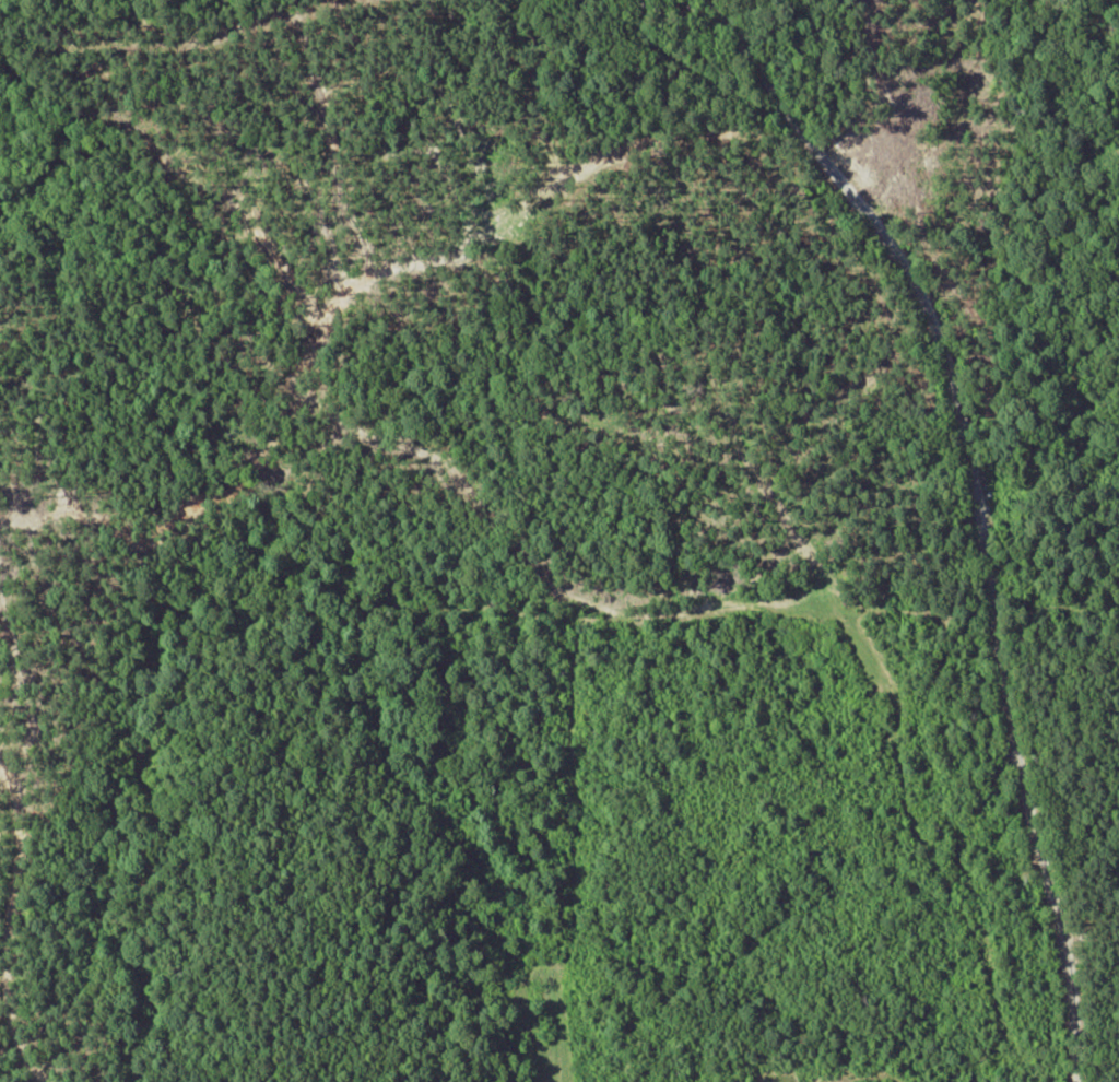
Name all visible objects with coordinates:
road: (982, 506)

